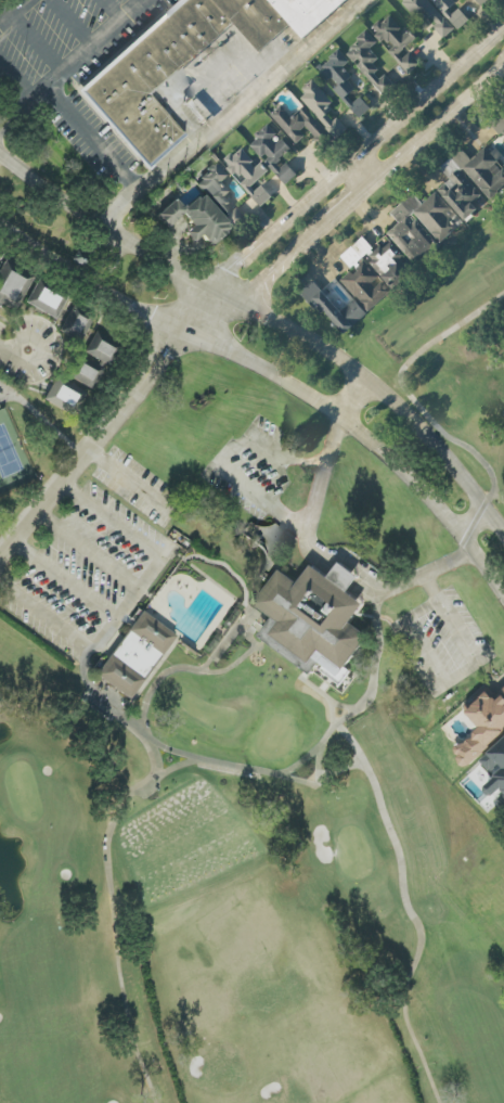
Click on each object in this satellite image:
building: (481, 1)
building: (325, 3)
road: (111, 10)
building: (451, 11)
road: (13, 12)
building: (298, 13)
building: (428, 13)
building: (251, 18)
road: (70, 23)
road: (36, 44)
building: (360, 52)
road: (70, 64)
building: (151, 76)
building: (340, 79)
road: (14, 85)
building: (320, 106)
road: (228, 112)
building: (499, 121)
building: (298, 123)
road: (90, 140)
building: (272, 151)
road: (363, 169)
building: (246, 171)
road: (337, 171)
building: (469, 178)
road: (347, 205)
building: (205, 209)
building: (421, 223)
building: (388, 262)
building: (364, 284)
building: (11, 286)
building: (44, 300)
building: (332, 306)
road: (273, 322)
building: (75, 324)
building: (101, 348)
road: (7, 352)
road: (14, 357)
building: (85, 375)
road: (277, 377)
building: (65, 396)
road: (349, 396)
road: (94, 449)
road: (266, 449)
road: (322, 475)
road: (132, 486)
road: (259, 499)
road: (112, 523)
road: (277, 531)
road: (271, 549)
road: (89, 553)
road: (66, 581)
road: (399, 583)
road: (431, 589)
road: (128, 604)
road: (47, 618)
building: (315, 619)
building: (135, 655)
road: (449, 683)
building: (483, 727)
park: (260, 751)
building: (495, 769)

